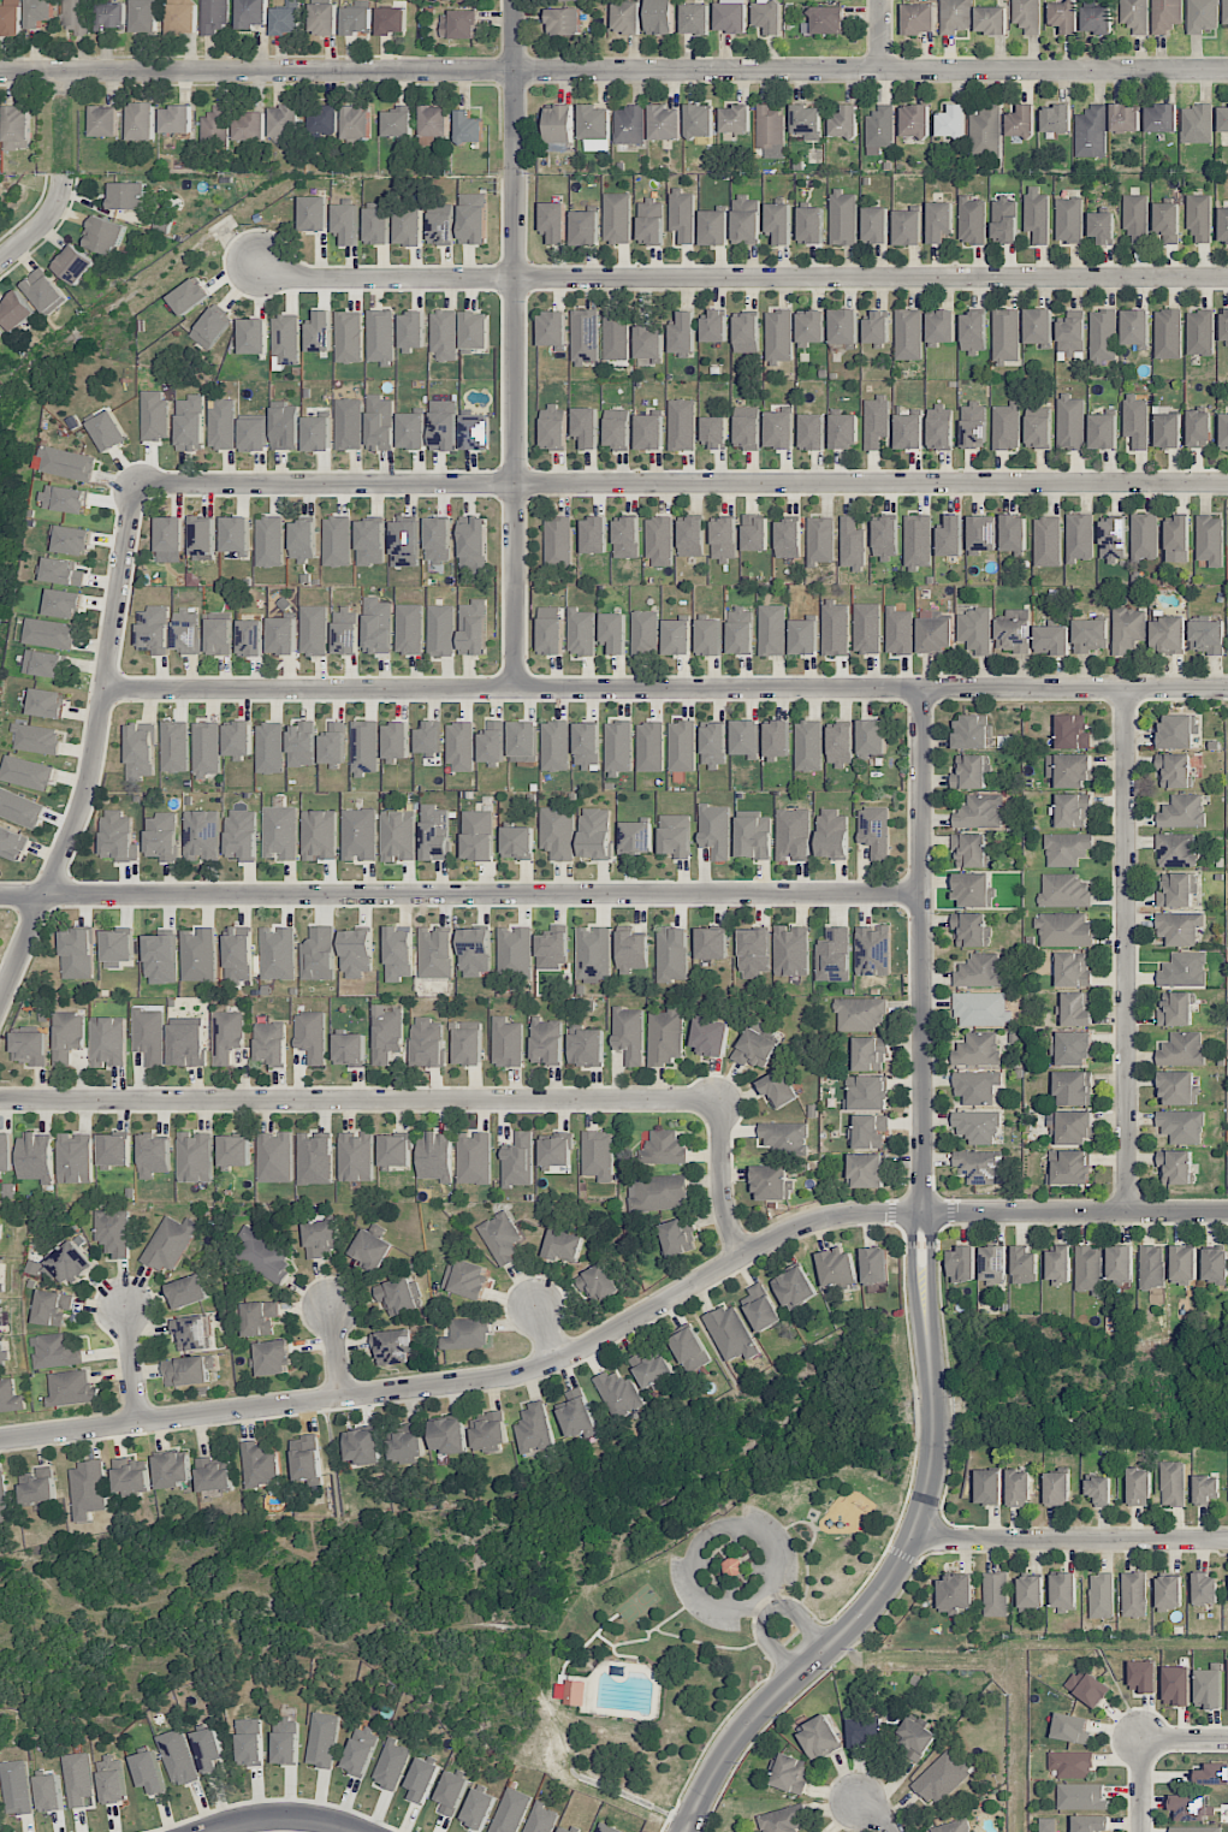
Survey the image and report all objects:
building: (446, 0)
building: (1093, 2)
building: (1224, 11)
building: (37, 12)
building: (251, 13)
building: (1165, 14)
building: (111, 16)
building: (144, 16)
building: (214, 16)
building: (730, 16)
building: (955, 16)
building: (1027, 16)
building: (1063, 16)
building: (1134, 16)
building: (1202, 16)
building: (76, 17)
building: (182, 17)
building: (625, 17)
building: (660, 17)
building: (767, 17)
building: (286, 18)
building: (10, 19)
building: (324, 19)
building: (694, 19)
building: (827, 19)
building: (919, 19)
building: (356, 20)
building: (391, 20)
building: (991, 20)
building: (1096, 20)
building: (564, 22)
building: (458, 24)
road: (882, 35)
road: (613, 69)
building: (1125, 118)
building: (1161, 118)
building: (176, 119)
building: (324, 119)
building: (735, 119)
building: (1056, 119)
building: (1223, 119)
building: (914, 120)
building: (103, 121)
building: (141, 121)
building: (398, 121)
building: (434, 121)
building: (806, 121)
building: (844, 121)
building: (950, 121)
building: (1020, 121)
building: (285, 123)
building: (356, 123)
building: (664, 123)
building: (698, 123)
building: (1196, 124)
building: (214, 125)
building: (629, 125)
building: (249, 126)
building: (16, 128)
building: (468, 128)
building: (594, 128)
building: (559, 129)
building: (880, 129)
building: (770, 131)
building: (984, 131)
building: (1091, 132)
building: (126, 196)
building: (314, 213)
building: (1037, 214)
building: (682, 215)
building: (1199, 217)
building: (617, 218)
building: (843, 218)
building: (1135, 218)
building: (473, 219)
building: (1004, 219)
building: (746, 220)
building: (972, 220)
building: (1069, 220)
road: (38, 221)
building: (553, 221)
building: (939, 221)
building: (1167, 221)
building: (651, 223)
building: (779, 223)
building: (346, 224)
building: (441, 224)
building: (811, 225)
building: (876, 225)
building: (1223, 225)
building: (378, 226)
building: (409, 227)
building: (585, 227)
building: (713, 227)
building: (907, 227)
building: (1102, 227)
building: (105, 236)
building: (73, 265)
road: (742, 278)
building: (43, 291)
building: (189, 296)
building: (16, 310)
building: (1224, 325)
building: (844, 326)
building: (941, 326)
building: (1038, 326)
building: (212, 327)
building: (714, 327)
building: (811, 327)
building: (1135, 327)
building: (552, 328)
building: (877, 328)
building: (411, 330)
building: (475, 330)
building: (319, 332)
building: (0, 333)
building: (682, 333)
building: (747, 333)
building: (973, 333)
building: (1072, 333)
building: (1168, 333)
building: (1200, 333)
building: (908, 334)
building: (253, 336)
building: (444, 336)
building: (778, 336)
building: (1005, 336)
building: (1103, 336)
building: (349, 337)
building: (380, 337)
building: (585, 337)
building: (615, 337)
building: (286, 339)
building: (649, 343)
road: (515, 344)
building: (154, 415)
building: (876, 421)
building: (1135, 421)
building: (1070, 422)
building: (190, 423)
building: (223, 423)
building: (349, 423)
building: (380, 423)
building: (444, 425)
building: (682, 425)
building: (973, 425)
building: (1005, 426)
building: (1038, 426)
building: (586, 427)
building: (747, 427)
building: (941, 427)
building: (285, 428)
building: (553, 428)
building: (617, 429)
building: (779, 429)
building: (1199, 429)
building: (108, 431)
building: (413, 431)
building: (844, 431)
building: (1168, 431)
building: (1224, 431)
building: (318, 432)
building: (475, 432)
building: (649, 432)
building: (714, 432)
building: (812, 432)
building: (908, 432)
building: (1103, 432)
building: (254, 434)
building: (67, 463)
road: (682, 485)
building: (65, 499)
building: (754, 533)
building: (983, 533)
building: (1014, 533)
building: (237, 534)
building: (593, 535)
building: (1144, 535)
building: (203, 536)
building: (951, 536)
building: (625, 538)
building: (692, 538)
building: (788, 538)
building: (885, 538)
building: (1080, 538)
building: (71, 539)
building: (170, 539)
building: (724, 539)
building: (1113, 539)
building: (1177, 539)
building: (303, 540)
building: (438, 540)
building: (820, 540)
building: (1210, 540)
building: (269, 541)
building: (337, 541)
building: (404, 541)
building: (558, 541)
building: (659, 541)
building: (918, 541)
building: (1048, 541)
building: (370, 543)
building: (473, 543)
building: (852, 544)
building: (63, 573)
building: (64, 604)
building: (378, 626)
building: (474, 628)
building: (835, 628)
building: (867, 628)
building: (409, 629)
building: (1127, 629)
building: (154, 630)
building: (314, 630)
building: (440, 630)
building: (551, 630)
building: (740, 630)
building: (772, 630)
building: (898, 630)
building: (974, 630)
building: (186, 632)
building: (346, 632)
building: (581, 632)
building: (1013, 632)
building: (49, 633)
building: (613, 633)
building: (645, 633)
building: (935, 634)
building: (283, 635)
building: (1090, 635)
building: (1167, 635)
building: (676, 636)
building: (803, 636)
building: (1206, 636)
building: (251, 638)
building: (708, 638)
building: (1051, 640)
building: (45, 664)
road: (668, 689)
building: (47, 702)
building: (1072, 731)
building: (1176, 731)
building: (971, 733)
building: (428, 737)
building: (37, 739)
building: (238, 739)
building: (746, 739)
building: (777, 739)
building: (872, 739)
building: (396, 740)
building: (524, 740)
building: (492, 742)
building: (334, 743)
building: (366, 743)
building: (302, 745)
building: (713, 745)
building: (174, 746)
building: (554, 746)
building: (587, 746)
building: (682, 746)
building: (808, 746)
building: (840, 746)
building: (461, 747)
building: (618, 747)
building: (649, 747)
building: (269, 748)
building: (206, 749)
road: (94, 751)
building: (140, 752)
building: (971, 770)
building: (1068, 770)
building: (1174, 771)
building: (26, 772)
building: (19, 808)
building: (1073, 810)
building: (979, 811)
building: (1182, 812)
building: (716, 830)
building: (874, 831)
building: (281, 832)
building: (434, 832)
building: (557, 832)
building: (595, 834)
building: (832, 834)
building: (201, 835)
building: (242, 835)
building: (320, 835)
building: (360, 835)
building: (477, 835)
building: (675, 835)
building: (753, 835)
building: (398, 836)
building: (118, 837)
building: (162, 837)
building: (635, 837)
building: (517, 842)
building: (12, 843)
building: (969, 849)
building: (1066, 849)
building: (1176, 849)
building: (972, 889)
building: (1063, 890)
building: (1175, 890)
road: (461, 895)
building: (1179, 927)
building: (972, 930)
building: (1063, 930)
building: (712, 944)
building: (552, 947)
building: (117, 948)
building: (631, 949)
building: (515, 950)
building: (873, 950)
building: (475, 951)
building: (791, 951)
road: (1127, 951)
building: (754, 953)
building: (77, 954)
building: (198, 954)
building: (238, 954)
building: (278, 954)
building: (356, 954)
building: (398, 954)
building: (435, 954)
building: (593, 954)
building: (672, 954)
building: (319, 955)
building: (834, 955)
building: (160, 959)
building: (1183, 970)
building: (979, 971)
building: (1072, 971)
building: (981, 1009)
building: (1075, 1009)
building: (1175, 1009)
building: (860, 1014)
building: (386, 1032)
building: (312, 1034)
building: (629, 1034)
building: (67, 1036)
building: (149, 1036)
building: (227, 1036)
building: (665, 1036)
building: (710, 1037)
building: (108, 1042)
building: (546, 1042)
building: (272, 1043)
building: (427, 1043)
building: (467, 1043)
building: (506, 1043)
building: (186, 1045)
building: (755, 1047)
building: (31, 1048)
building: (586, 1048)
building: (1072, 1048)
building: (978, 1049)
building: (1182, 1049)
building: (350, 1050)
building: (870, 1054)
building: (977, 1086)
building: (1073, 1087)
building: (1176, 1087)
building: (778, 1089)
building: (867, 1093)
road: (360, 1101)
building: (977, 1126)
building: (1181, 1126)
building: (1069, 1127)
building: (868, 1132)
building: (784, 1136)
building: (664, 1149)
building: (115, 1150)
building: (556, 1150)
building: (6, 1151)
building: (235, 1151)
building: (396, 1151)
building: (598, 1155)
building: (154, 1156)
building: (356, 1156)
building: (435, 1156)
building: (36, 1157)
building: (195, 1157)
building: (275, 1157)
building: (76, 1158)
building: (474, 1158)
building: (315, 1160)
building: (518, 1161)
building: (979, 1167)
building: (1069, 1167)
building: (1176, 1167)
building: (866, 1170)
road: (720, 1180)
building: (770, 1182)
building: (658, 1193)
building: (113, 1232)
building: (502, 1237)
building: (322, 1238)
building: (677, 1238)
building: (170, 1244)
building: (564, 1245)
building: (370, 1250)
building: (262, 1255)
building: (64, 1263)
building: (992, 1263)
building: (1120, 1263)
building: (962, 1264)
building: (1182, 1264)
building: (874, 1265)
building: (1024, 1265)
building: (1058, 1265)
building: (1215, 1265)
building: (836, 1267)
building: (1152, 1267)
building: (1088, 1268)
building: (0, 1274)
building: (467, 1279)
building: (599, 1283)
building: (794, 1287)
building: (188, 1291)
road: (924, 1304)
building: (53, 1308)
building: (761, 1308)
building: (259, 1317)
road: (621, 1328)
building: (194, 1333)
building: (731, 1333)
building: (468, 1334)
road: (547, 1335)
building: (393, 1346)
building: (690, 1350)
building: (57, 1351)
building: (2, 1354)
road: (336, 1354)
building: (273, 1358)
road: (132, 1365)
building: (189, 1370)
building: (652, 1370)
building: (72, 1388)
building: (619, 1394)
building: (10, 1397)
building: (577, 1415)
building: (534, 1429)
building: (490, 1431)
building: (450, 1435)
building: (363, 1446)
building: (408, 1447)
building: (307, 1460)
building: (260, 1464)
building: (173, 1470)
building: (132, 1476)
building: (213, 1476)
building: (1173, 1483)
building: (40, 1487)
building: (989, 1487)
building: (1139, 1487)
building: (1018, 1488)
building: (1057, 1488)
building: (89, 1489)
building: (1205, 1489)
building: (1099, 1490)
building: (4, 1501)
road: (766, 1538)
road: (1072, 1542)
building: (732, 1566)
building: (1205, 1589)
building: (1031, 1591)
building: (1063, 1591)
building: (1169, 1593)
building: (955, 1594)
building: (1134, 1594)
building: (996, 1595)
building: (1102, 1595)
park: (637, 1603)
road: (765, 1605)
road: (767, 1611)
park: (677, 1626)
building: (1143, 1676)
building: (1227, 1683)
building: (1176, 1685)
building: (1088, 1688)
building: (1209, 1689)
building: (575, 1692)
building: (1072, 1729)
building: (865, 1731)
building: (819, 1738)
building: (322, 1739)
building: (914, 1739)
building: (286, 1741)
building: (249, 1742)
road: (1185, 1742)
building: (208, 1749)
building: (360, 1750)
building: (178, 1757)
building: (391, 1763)
building: (1070, 1765)
building: (149, 1772)
building: (787, 1773)
building: (1212, 1774)
building: (942, 1778)
building: (79, 1779)
building: (112, 1779)
building: (422, 1779)
building: (17, 1786)
road: (1143, 1787)
building: (451, 1792)
building: (1081, 1796)
building: (1191, 1808)
building: (477, 1809)
building: (510, 1812)
road: (278, 1815)
road: (876, 1815)
building: (541, 1819)
building: (783, 1820)
building: (1091, 1824)
building: (1048, 1825)
building: (954, 1826)
building: (606, 1828)
building: (1196, 1828)

